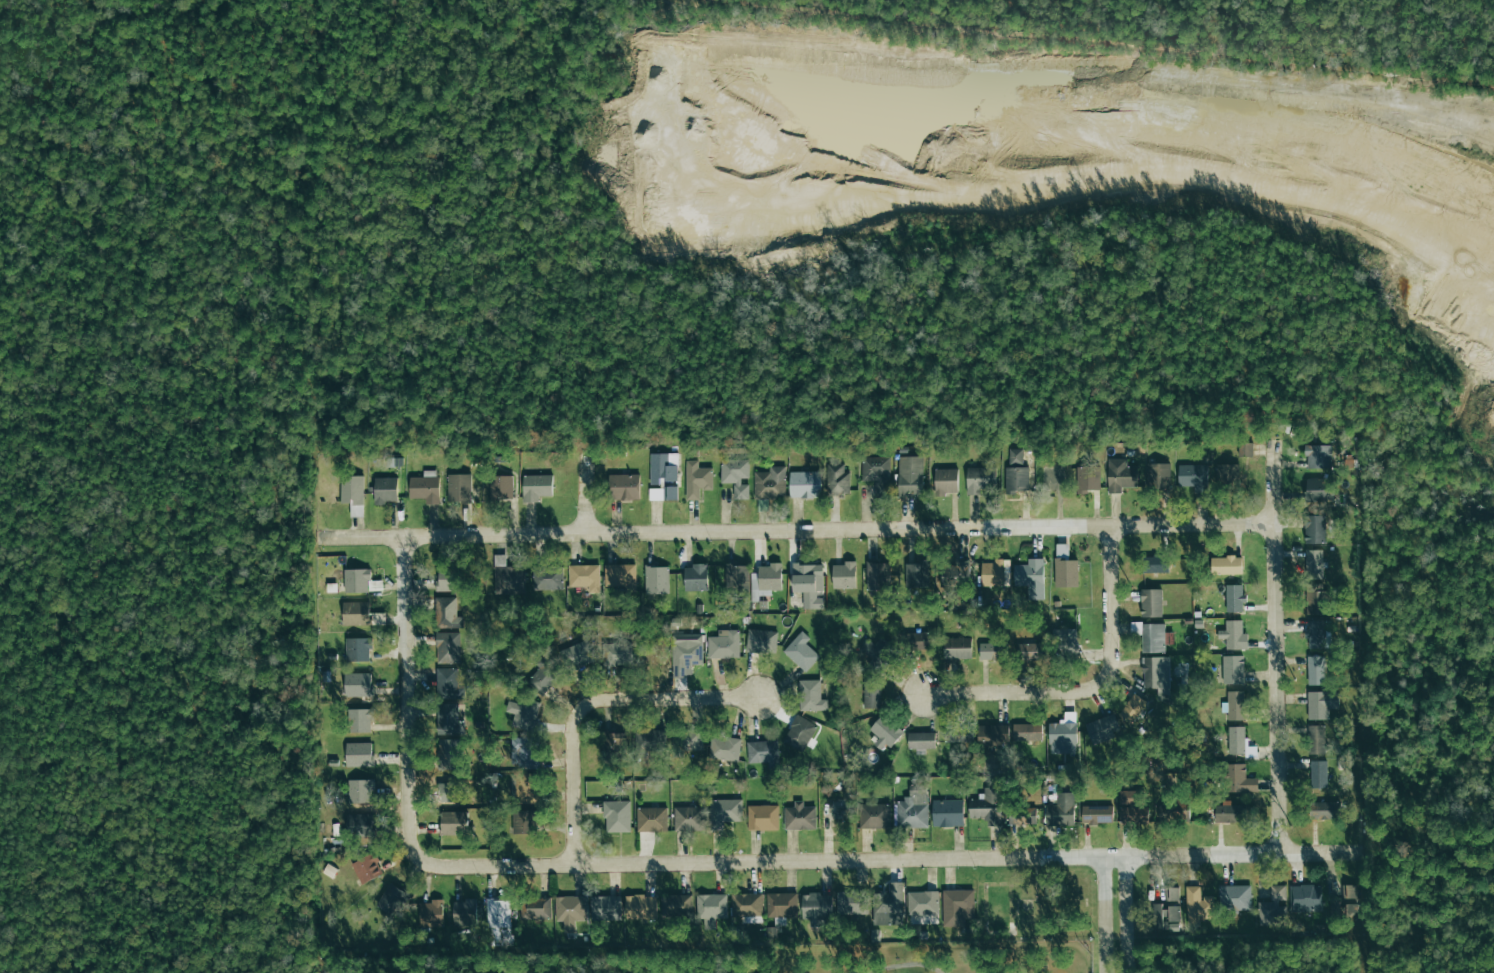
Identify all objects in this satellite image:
building: (1244, 449)
building: (1014, 456)
building: (1317, 456)
building: (662, 467)
building: (875, 471)
building: (1226, 474)
building: (1120, 475)
building: (735, 476)
building: (909, 476)
building: (1158, 476)
building: (1193, 476)
building: (1016, 478)
building: (696, 479)
building: (836, 479)
building: (977, 479)
building: (1087, 479)
building: (945, 481)
building: (769, 483)
building: (804, 484)
building: (425, 486)
building: (501, 486)
building: (623, 486)
road: (1274, 486)
building: (535, 487)
building: (458, 488)
building: (385, 489)
building: (1319, 489)
building: (352, 493)
building: (662, 493)
road: (588, 495)
building: (1314, 529)
road: (839, 532)
road: (346, 540)
building: (1157, 564)
building: (1314, 564)
building: (1226, 565)
building: (1065, 567)
building: (993, 573)
building: (955, 574)
building: (507, 575)
building: (620, 575)
building: (844, 575)
building: (916, 575)
building: (584, 576)
building: (877, 576)
building: (695, 577)
building: (1031, 577)
building: (547, 578)
building: (737, 578)
building: (357, 579)
building: (656, 579)
building: (765, 580)
building: (808, 583)
building: (1233, 598)
building: (1315, 598)
building: (1150, 602)
building: (447, 612)
building: (356, 613)
building: (1314, 633)
building: (1232, 634)
building: (1150, 635)
building: (917, 640)
building: (760, 641)
building: (1065, 643)
building: (724, 644)
building: (447, 647)
building: (957, 647)
building: (357, 649)
building: (875, 649)
building: (801, 651)
building: (992, 651)
building: (1032, 651)
building: (686, 653)
building: (617, 654)
building: (576, 656)
building: (1232, 669)
building: (1315, 670)
building: (1157, 675)
building: (543, 677)
building: (356, 684)
building: (448, 684)
road: (1092, 689)
road: (1278, 692)
building: (871, 693)
building: (811, 696)
road: (407, 701)
building: (1321, 703)
road: (589, 705)
building: (1133, 705)
building: (1235, 705)
building: (526, 714)
building: (448, 719)
building: (360, 720)
building: (1101, 728)
building: (1027, 731)
building: (885, 732)
building: (799, 733)
building: (959, 734)
building: (991, 735)
building: (1062, 735)
building: (617, 739)
building: (687, 739)
building: (1315, 739)
building: (650, 740)
building: (920, 740)
building: (1239, 742)
building: (724, 748)
building: (525, 752)
building: (763, 752)
building: (449, 753)
building: (358, 754)
building: (1318, 774)
building: (1239, 779)
building: (527, 788)
building: (359, 790)
building: (986, 806)
building: (1131, 806)
building: (1324, 809)
building: (913, 810)
building: (1060, 810)
building: (724, 812)
building: (1174, 812)
building: (1228, 812)
building: (947, 813)
building: (1096, 814)
building: (874, 815)
building: (1020, 815)
building: (617, 816)
building: (799, 816)
building: (762, 817)
building: (689, 818)
building: (651, 819)
building: (524, 821)
building: (453, 822)
building: (359, 825)
road: (1321, 856)
road: (1204, 857)
road: (1115, 858)
road: (761, 864)
building: (366, 868)
building: (1347, 891)
building: (1171, 893)
building: (1234, 897)
building: (1305, 898)
building: (392, 899)
building: (852, 902)
building: (922, 902)
building: (746, 904)
building: (781, 904)
building: (1197, 904)
building: (674, 905)
building: (888, 905)
building: (640, 906)
building: (957, 906)
building: (605, 907)
building: (817, 907)
building: (1272, 907)
building: (710, 908)
building: (535, 909)
building: (1332, 909)
building: (1349, 910)
building: (569, 911)
building: (430, 913)
building: (464, 913)
building: (1163, 914)
road: (1127, 915)
road: (1105, 916)
building: (498, 922)
road: (909, 964)

